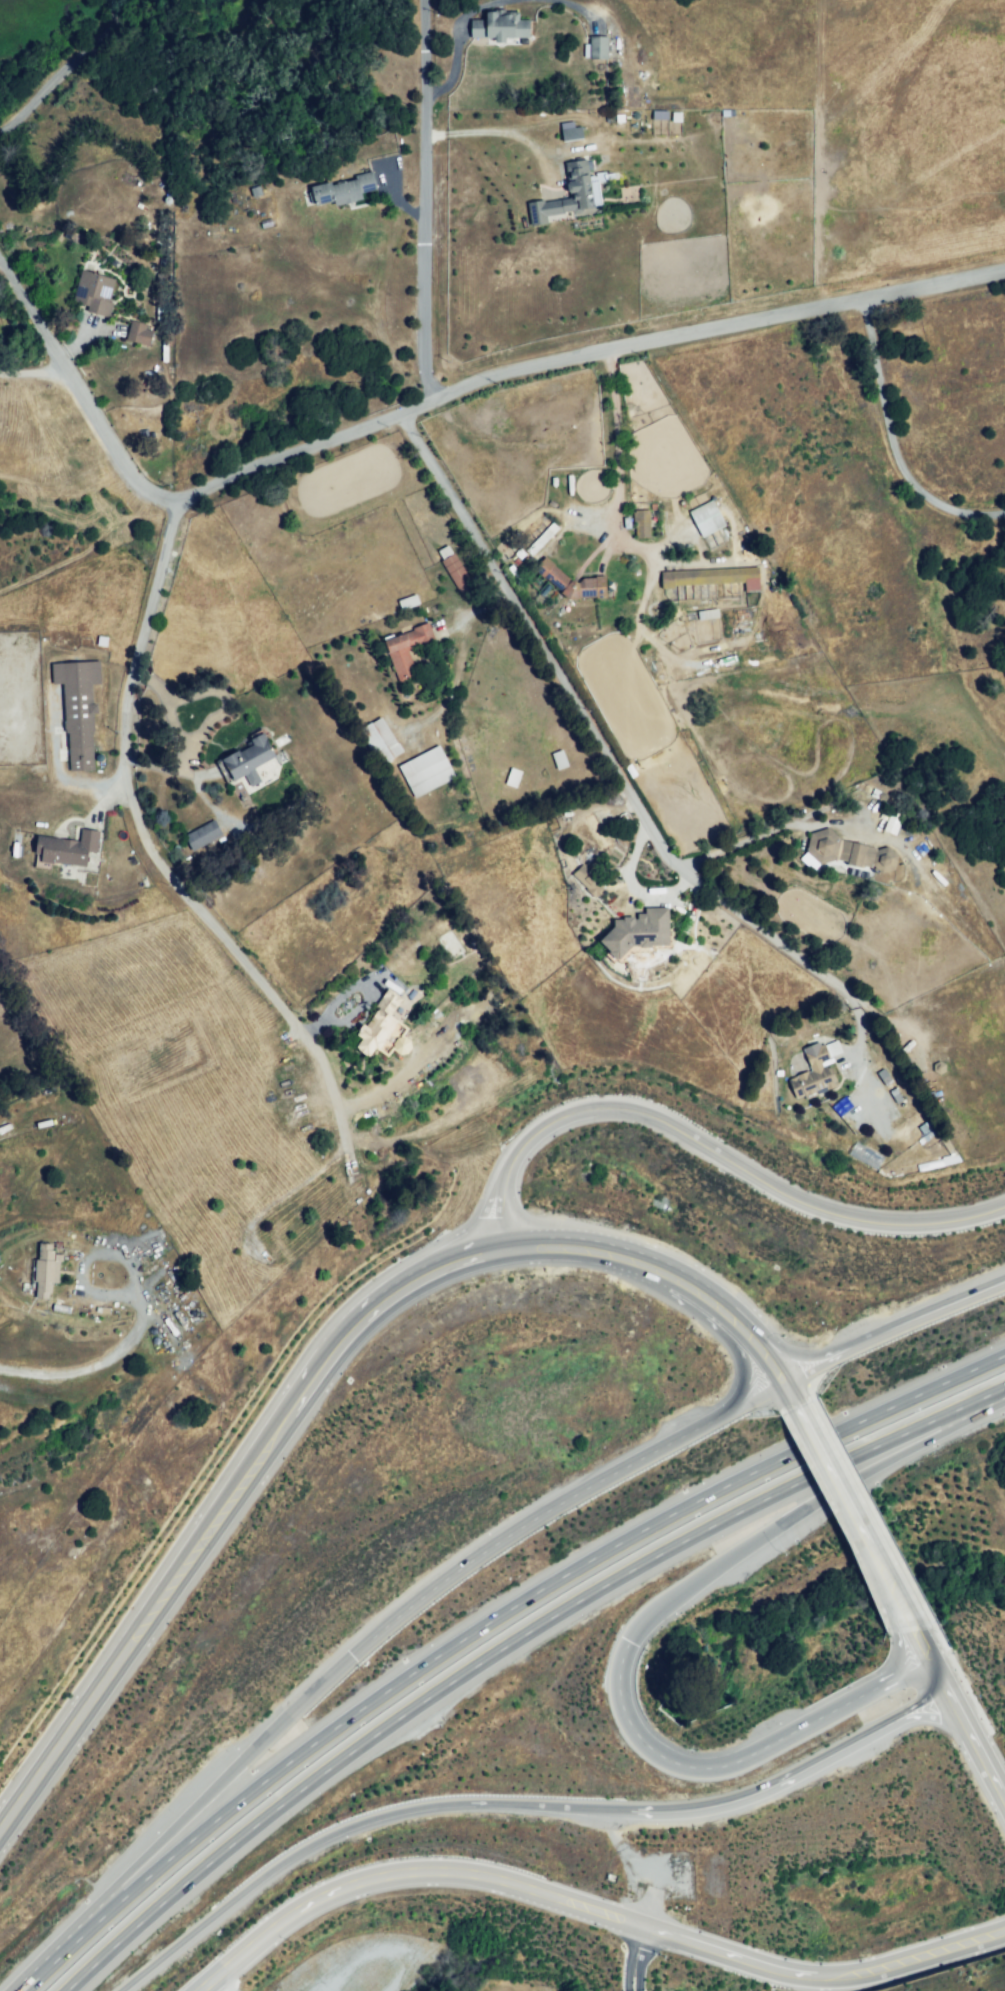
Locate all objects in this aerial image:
building: (499, 29)
building: (596, 50)
road: (63, 65)
building: (658, 114)
building: (569, 131)
building: (341, 190)
road: (431, 197)
building: (562, 200)
building: (94, 291)
building: (141, 333)
road: (40, 375)
road: (431, 396)
road: (896, 436)
road: (620, 443)
building: (706, 522)
building: (644, 528)
building: (540, 539)
building: (443, 551)
building: (458, 578)
building: (573, 584)
building: (709, 584)
building: (709, 613)
building: (407, 652)
road: (220, 712)
building: (77, 713)
road: (599, 729)
building: (381, 740)
building: (248, 764)
building: (427, 772)
building: (514, 779)
road: (71, 780)
road: (752, 835)
building: (203, 839)
building: (68, 851)
building: (847, 853)
building: (587, 879)
road: (182, 880)
building: (640, 934)
building: (451, 947)
building: (380, 1034)
building: (812, 1076)
building: (925, 1130)
road: (705, 1157)
building: (49, 1277)
road: (916, 1318)
road: (750, 1319)
road: (734, 1330)
road: (104, 1359)
road: (803, 1367)
road: (273, 1438)
road: (701, 1502)
road: (849, 1515)
road: (699, 1529)
road: (637, 1636)
road: (363, 1638)
road: (927, 1666)
road: (974, 1755)
road: (790, 1774)
road: (215, 1824)
road: (352, 1829)
road: (236, 1841)
road: (587, 1909)
road: (626, 1957)
road: (204, 1989)

